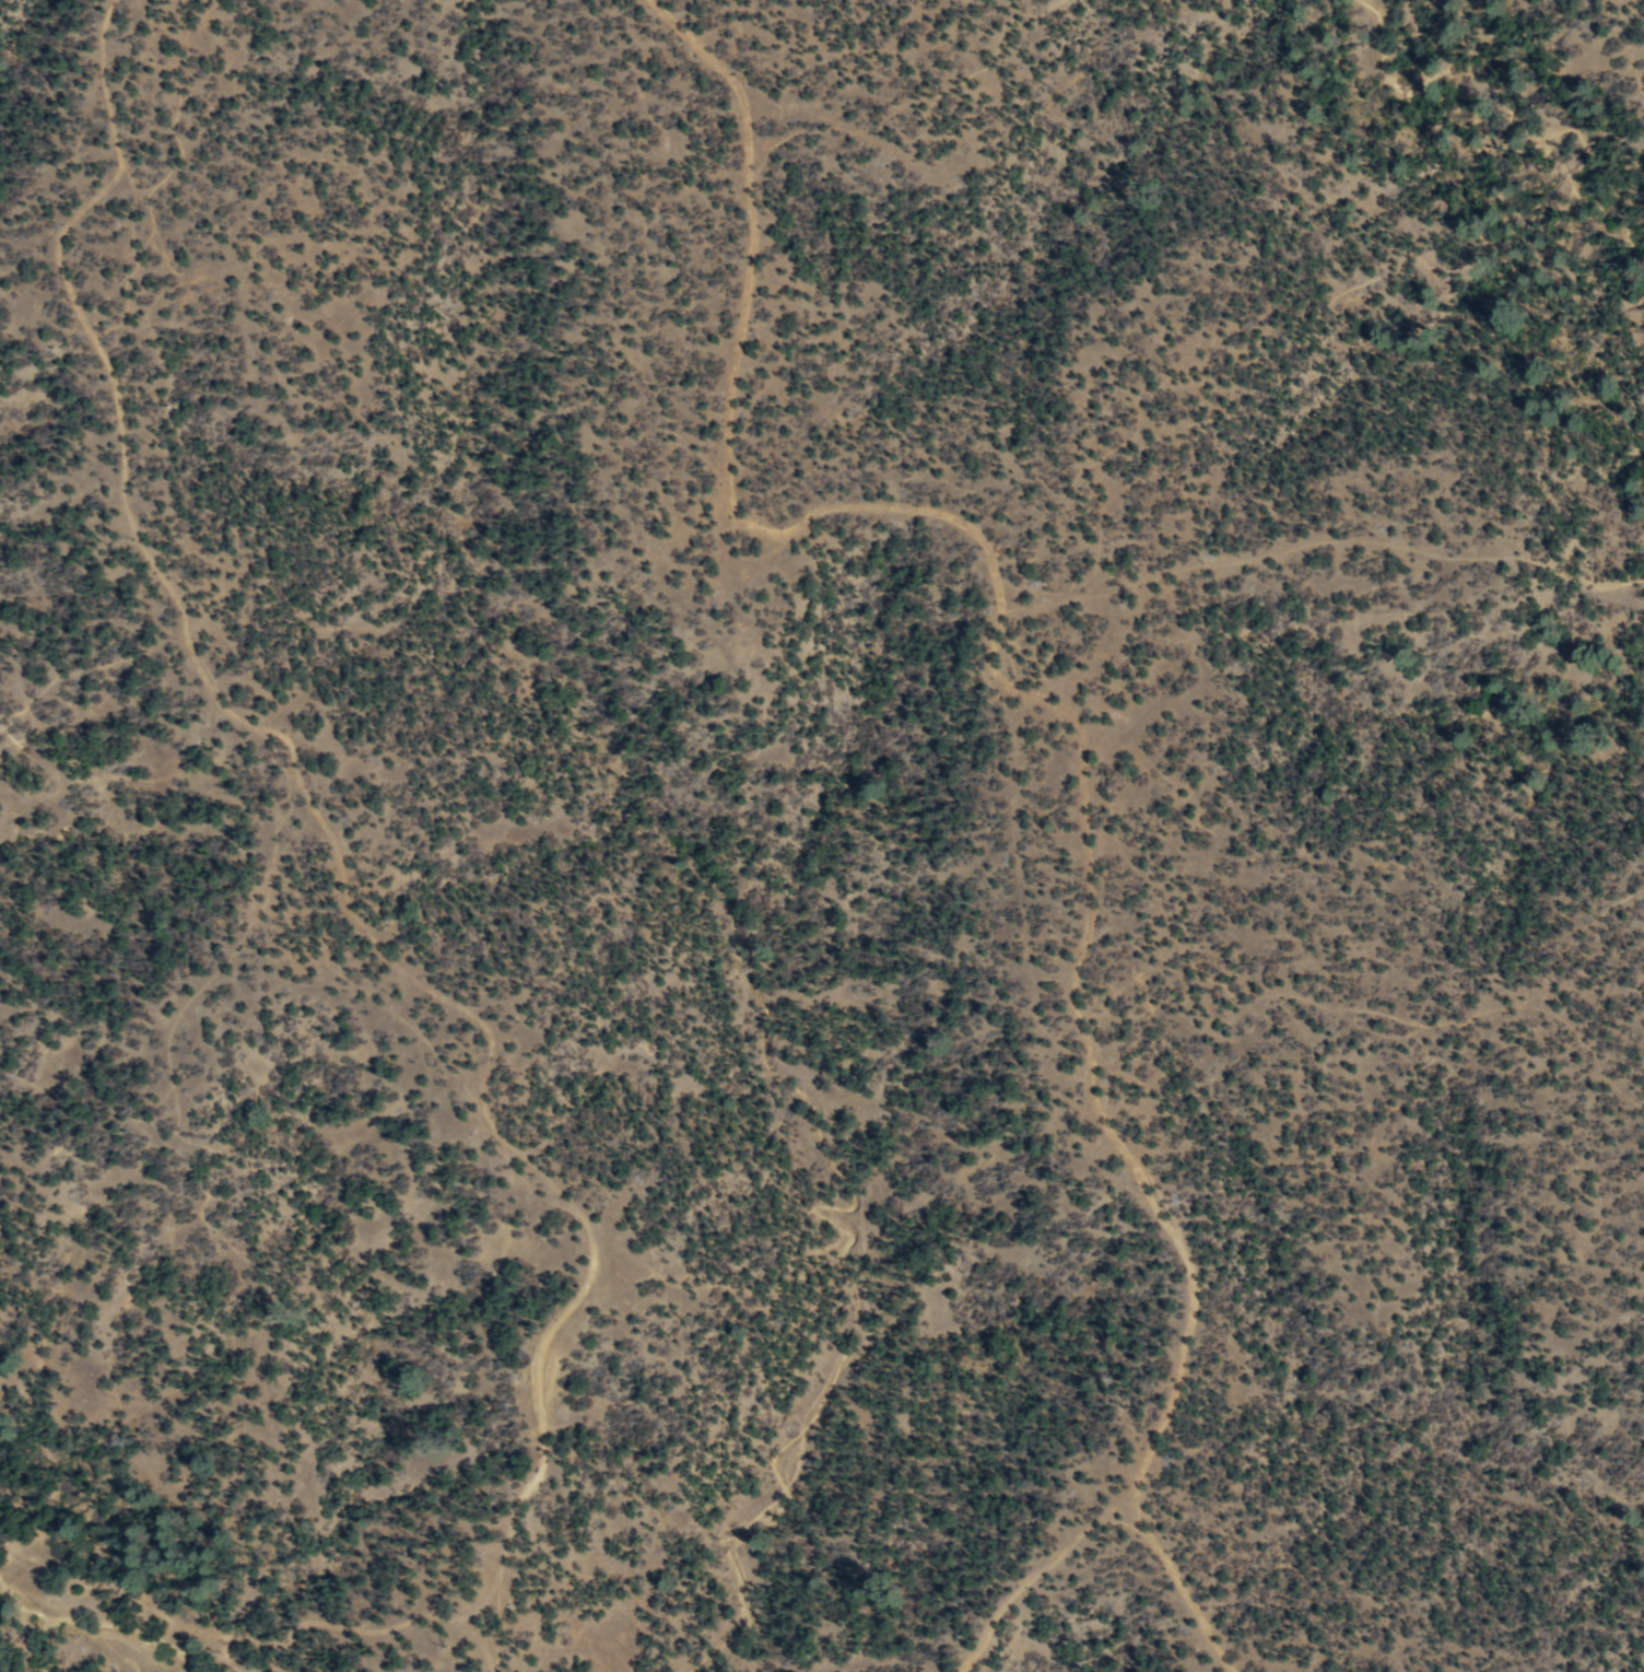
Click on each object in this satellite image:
road: (328, 828)
road: (228, 1635)

